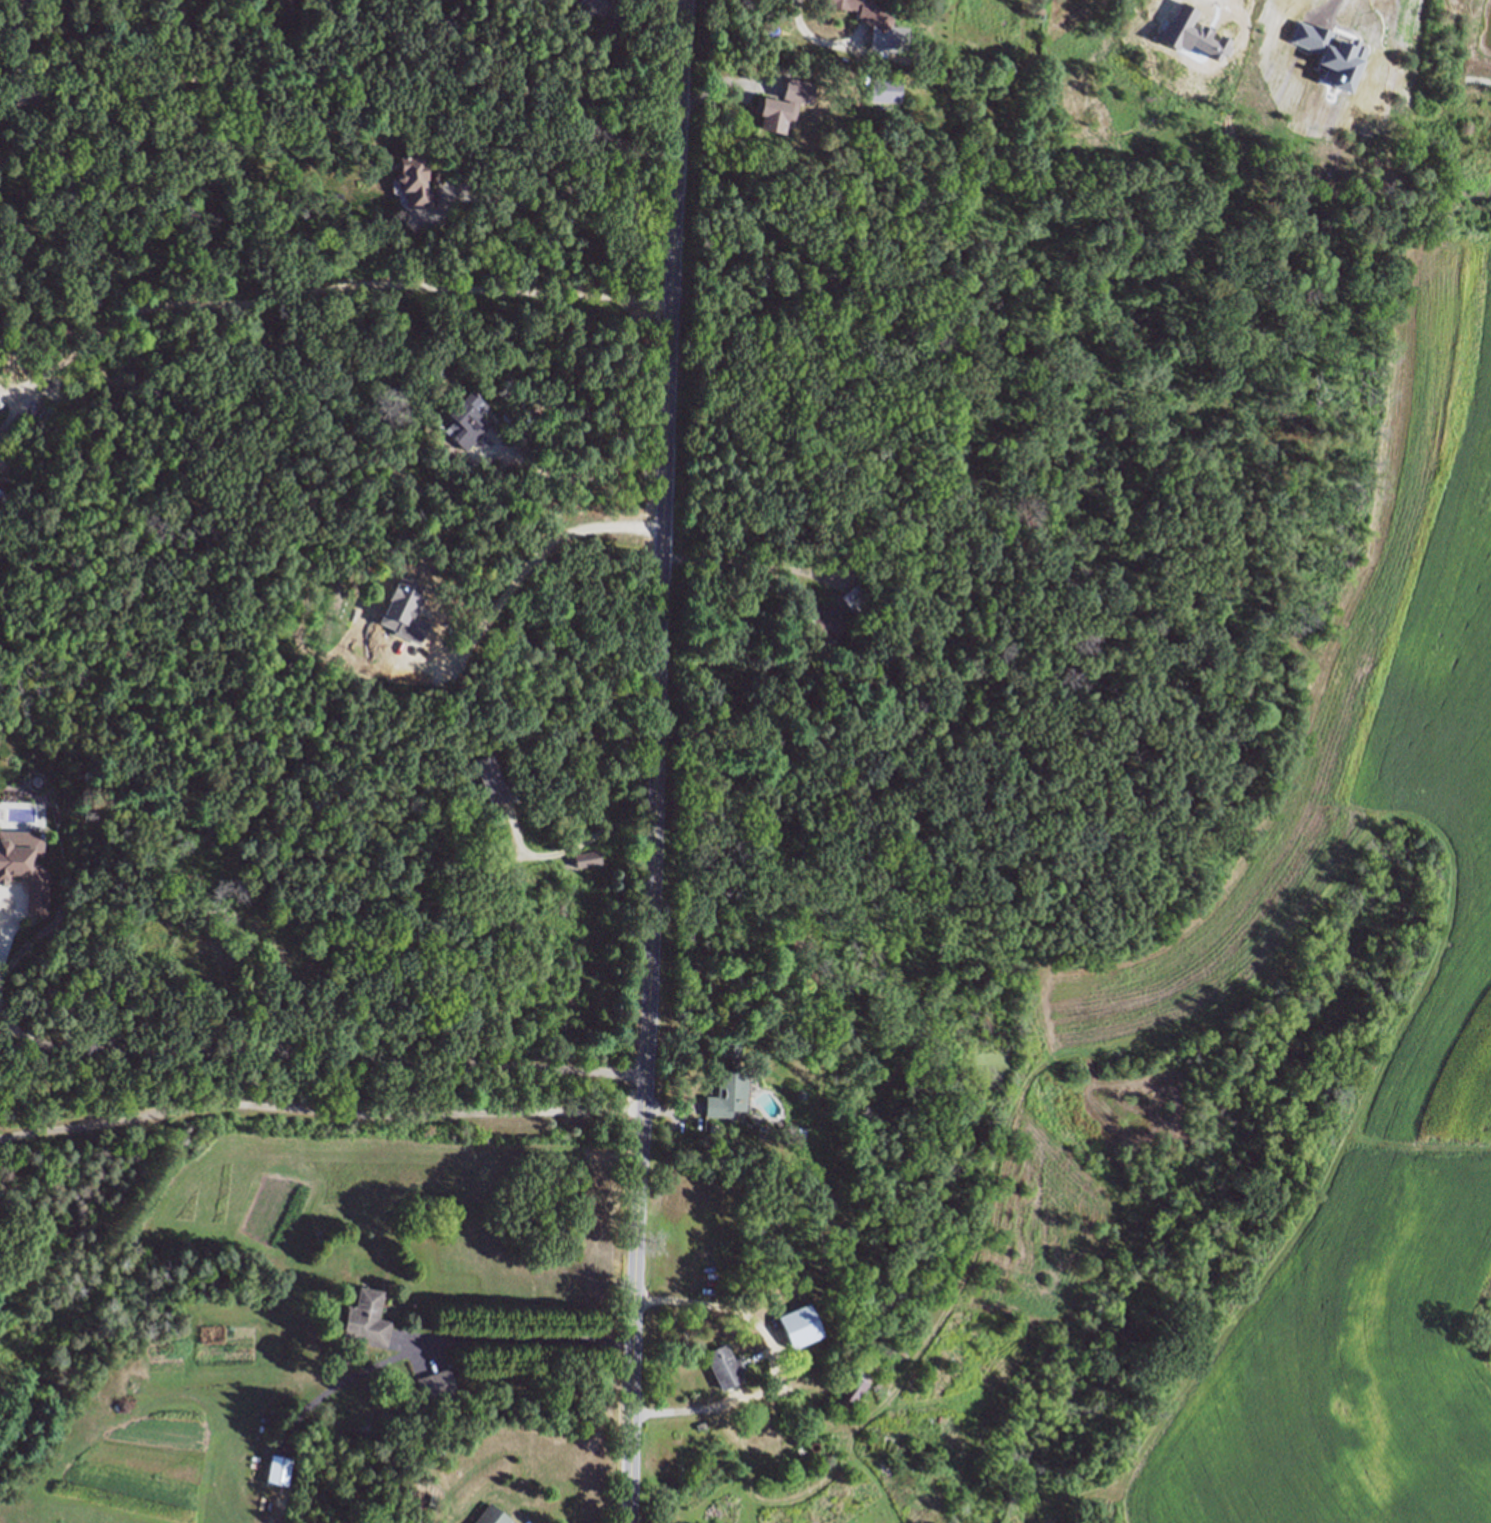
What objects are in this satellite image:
building: (16, 0)
building: (30, 4)
building: (607, 8)
building: (872, 25)
road: (808, 33)
road: (331, 88)
building: (25, 93)
building: (782, 109)
road: (600, 123)
building: (412, 178)
road: (536, 204)
road: (328, 292)
building: (466, 419)
road: (578, 483)
building: (0, 491)
building: (0, 494)
road: (523, 564)
road: (744, 568)
building: (853, 598)
building: (821, 618)
road: (656, 761)
building: (490, 779)
building: (200, 852)
road: (570, 852)
building: (586, 859)
building: (26, 874)
crop: (1290, 881)
building: (231, 905)
building: (293, 956)
road: (128, 1038)
building: (731, 1047)
road: (400, 1064)
building: (726, 1091)
road: (320, 1113)
road: (716, 1306)
building: (365, 1317)
building: (896, 1348)
road: (526, 1350)
building: (721, 1367)
building: (855, 1383)
building: (436, 1384)
road: (684, 1411)
building: (882, 1447)
building: (278, 1469)
building: (491, 1515)

